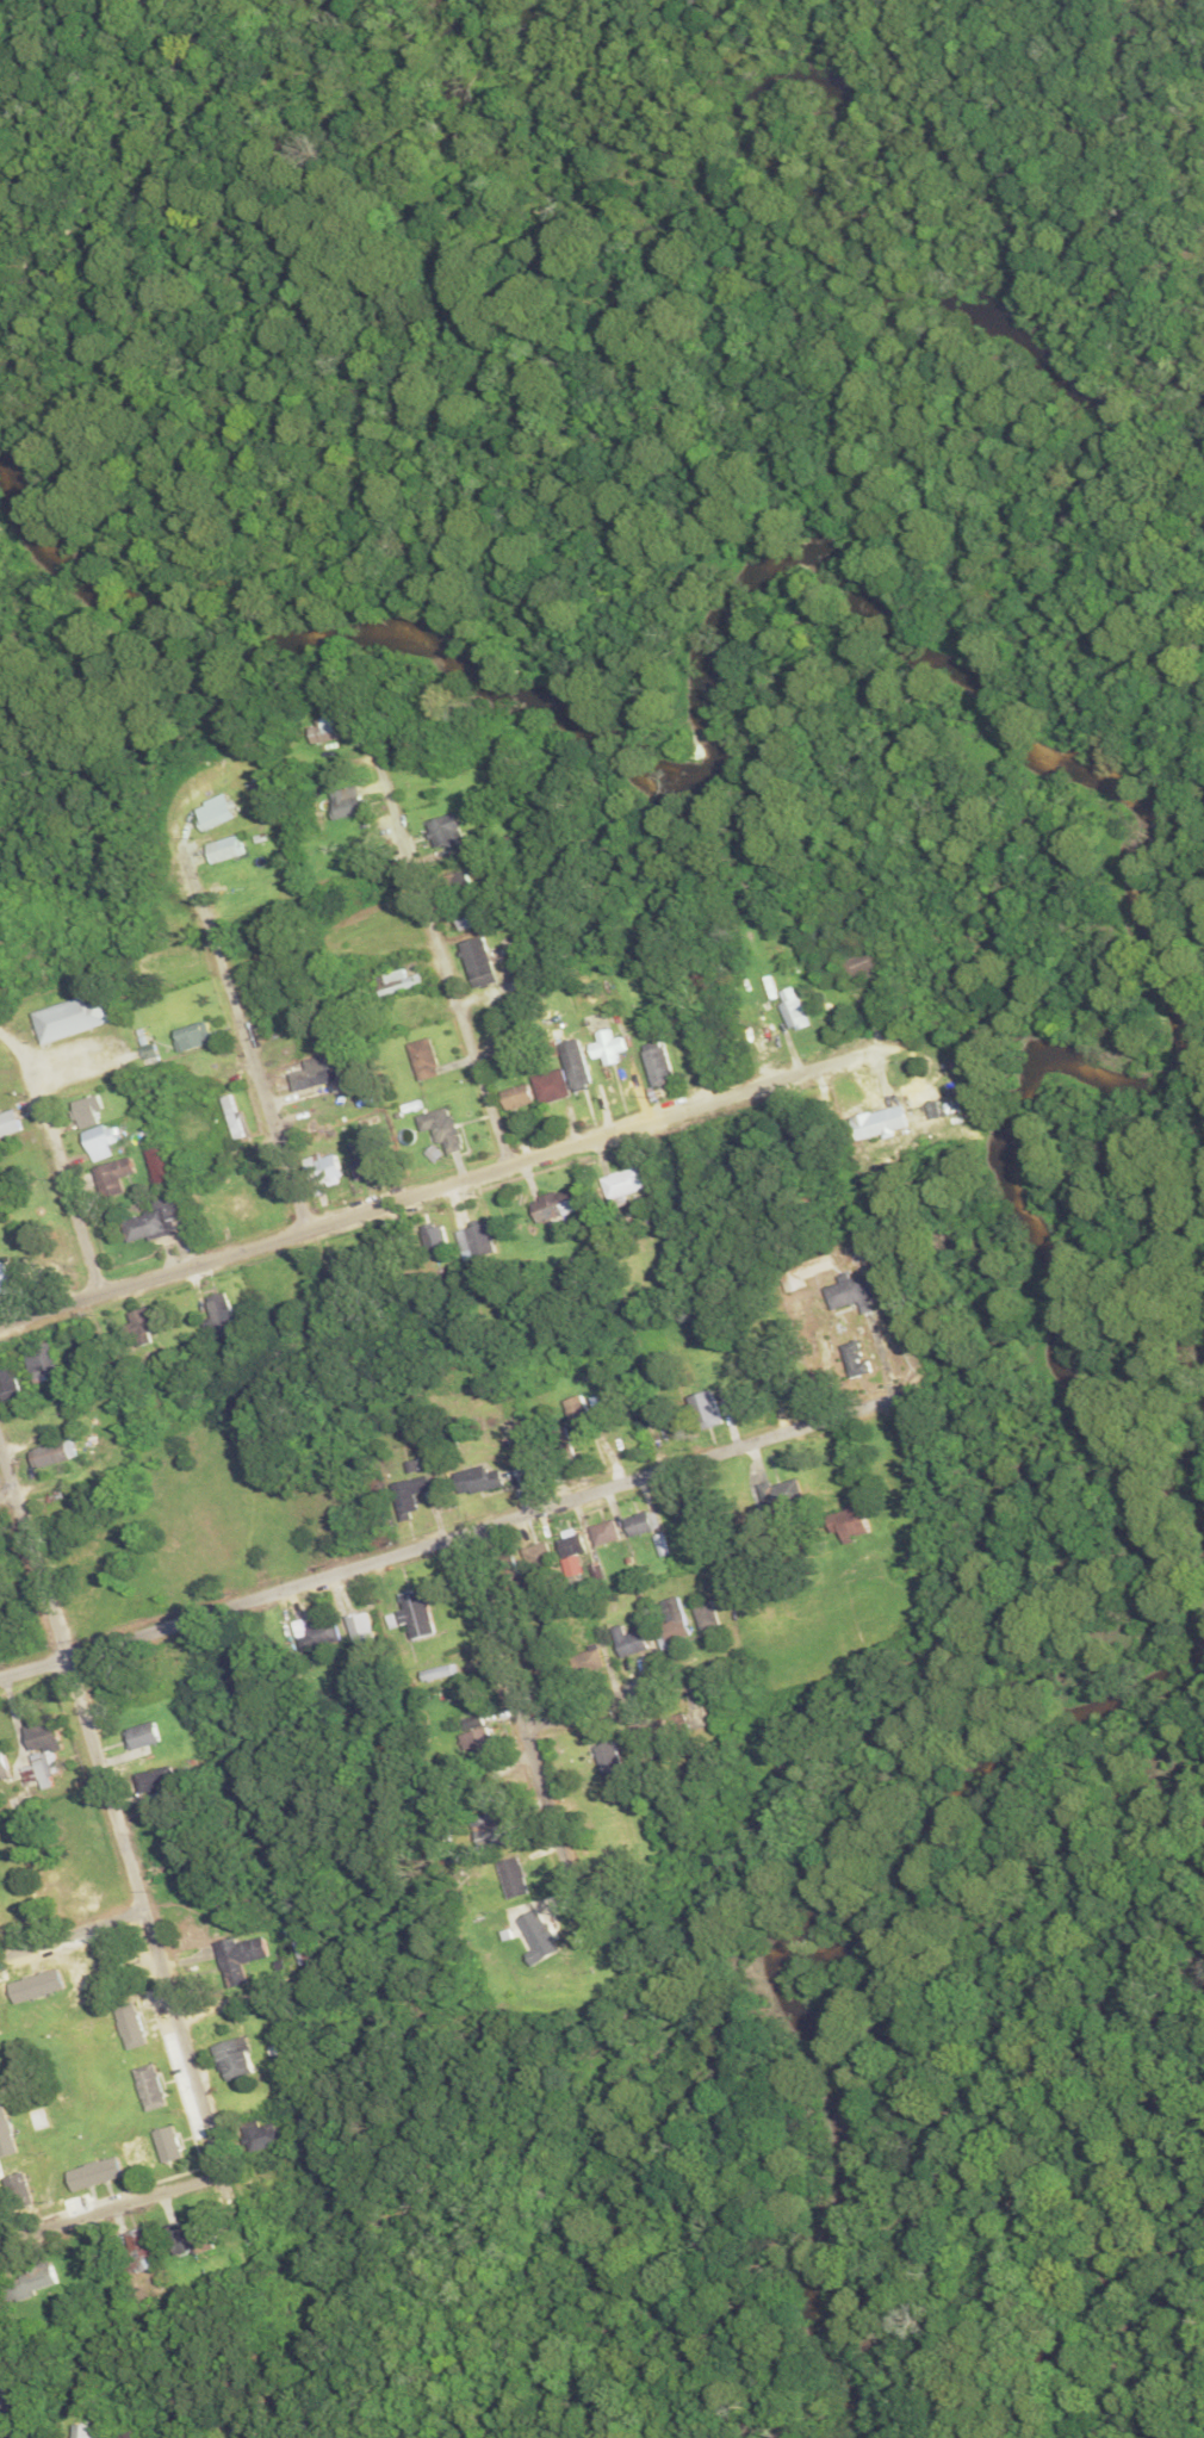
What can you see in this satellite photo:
road: (441, 953)
road: (252, 1054)
road: (57, 1152)
road: (443, 1184)
road: (7, 1490)
road: (436, 1536)
road: (594, 1701)
road: (520, 1704)
road: (117, 1818)
road: (73, 1930)
road: (95, 2207)
road: (7, 2411)

